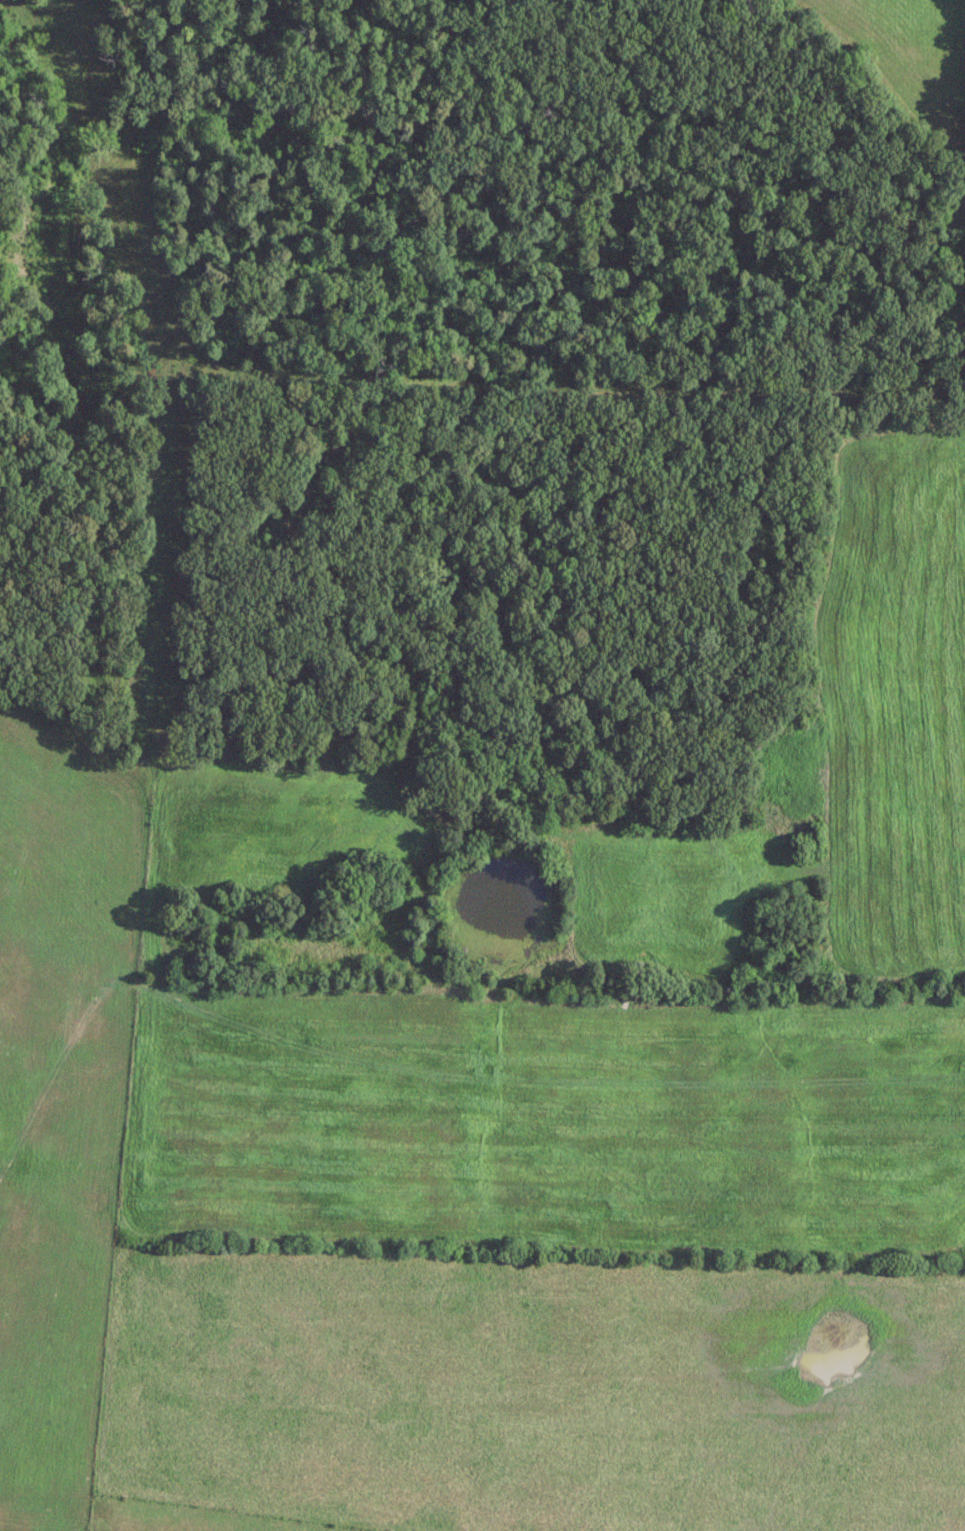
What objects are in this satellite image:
crop: (886, 693)

